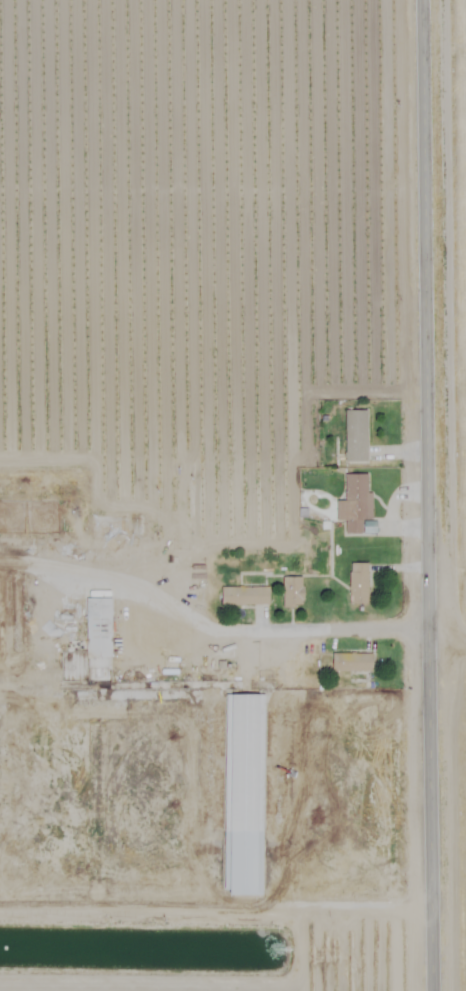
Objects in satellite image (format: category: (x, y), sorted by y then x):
crop: (242, 266)
building: (357, 435)
road: (428, 495)
building: (355, 503)
building: (29, 518)
building: (118, 525)
building: (359, 583)
building: (293, 592)
building: (245, 595)
building: (12, 625)
road: (209, 625)
building: (99, 628)
road: (448, 636)
building: (353, 662)
building: (244, 785)
road: (216, 904)

